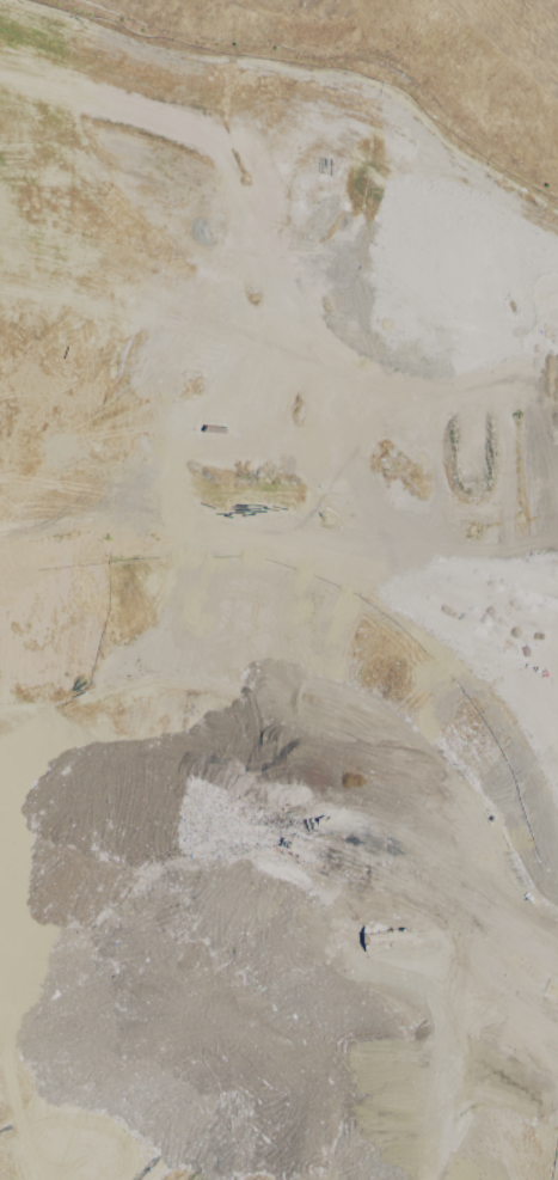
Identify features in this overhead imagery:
landfill: (296, 653)

